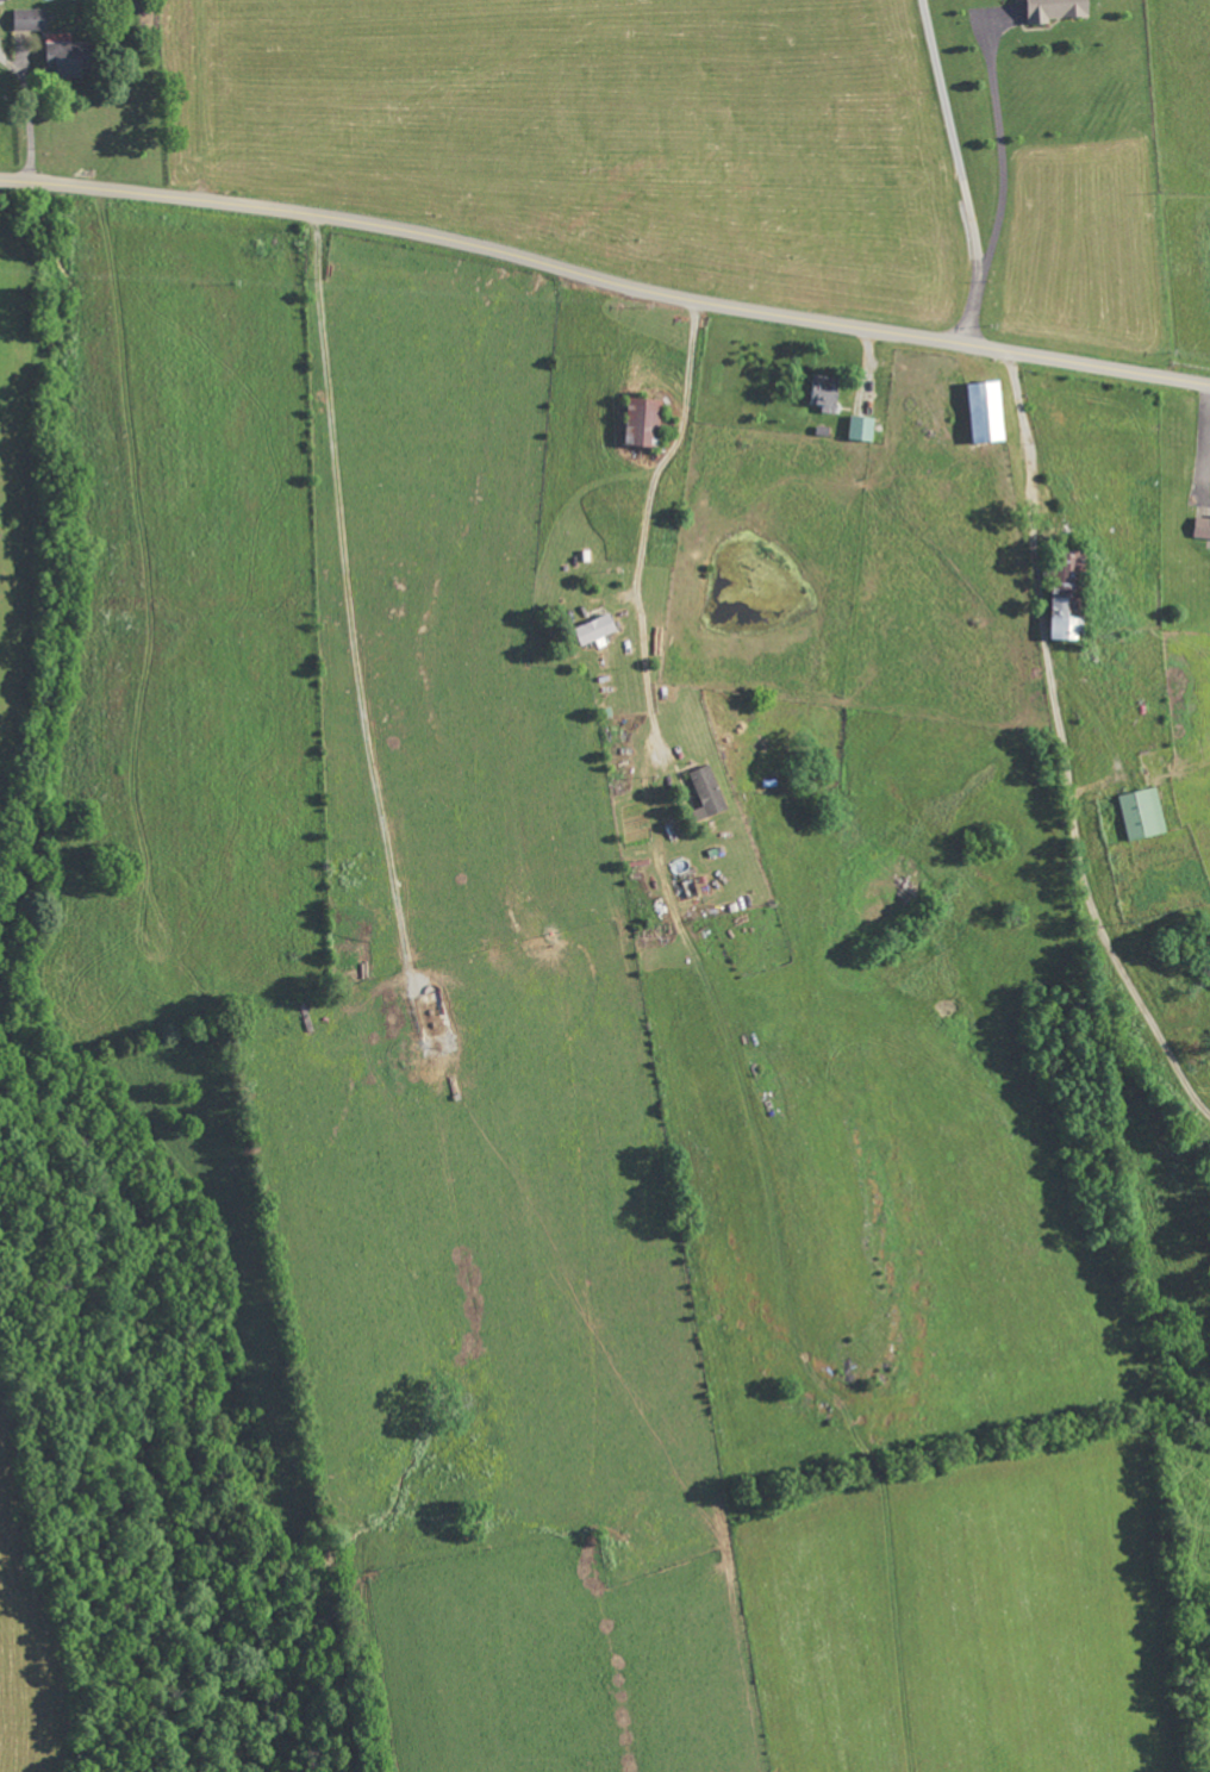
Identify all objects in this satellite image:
building: (4, 0)
building: (1058, 10)
building: (31, 19)
building: (68, 55)
road: (29, 119)
road: (1003, 162)
road: (962, 169)
road: (604, 276)
building: (828, 394)
building: (988, 413)
building: (645, 422)
building: (863, 429)
road: (643, 512)
building: (1203, 528)
building: (597, 630)
road: (1064, 747)
building: (709, 794)
building: (1143, 815)

